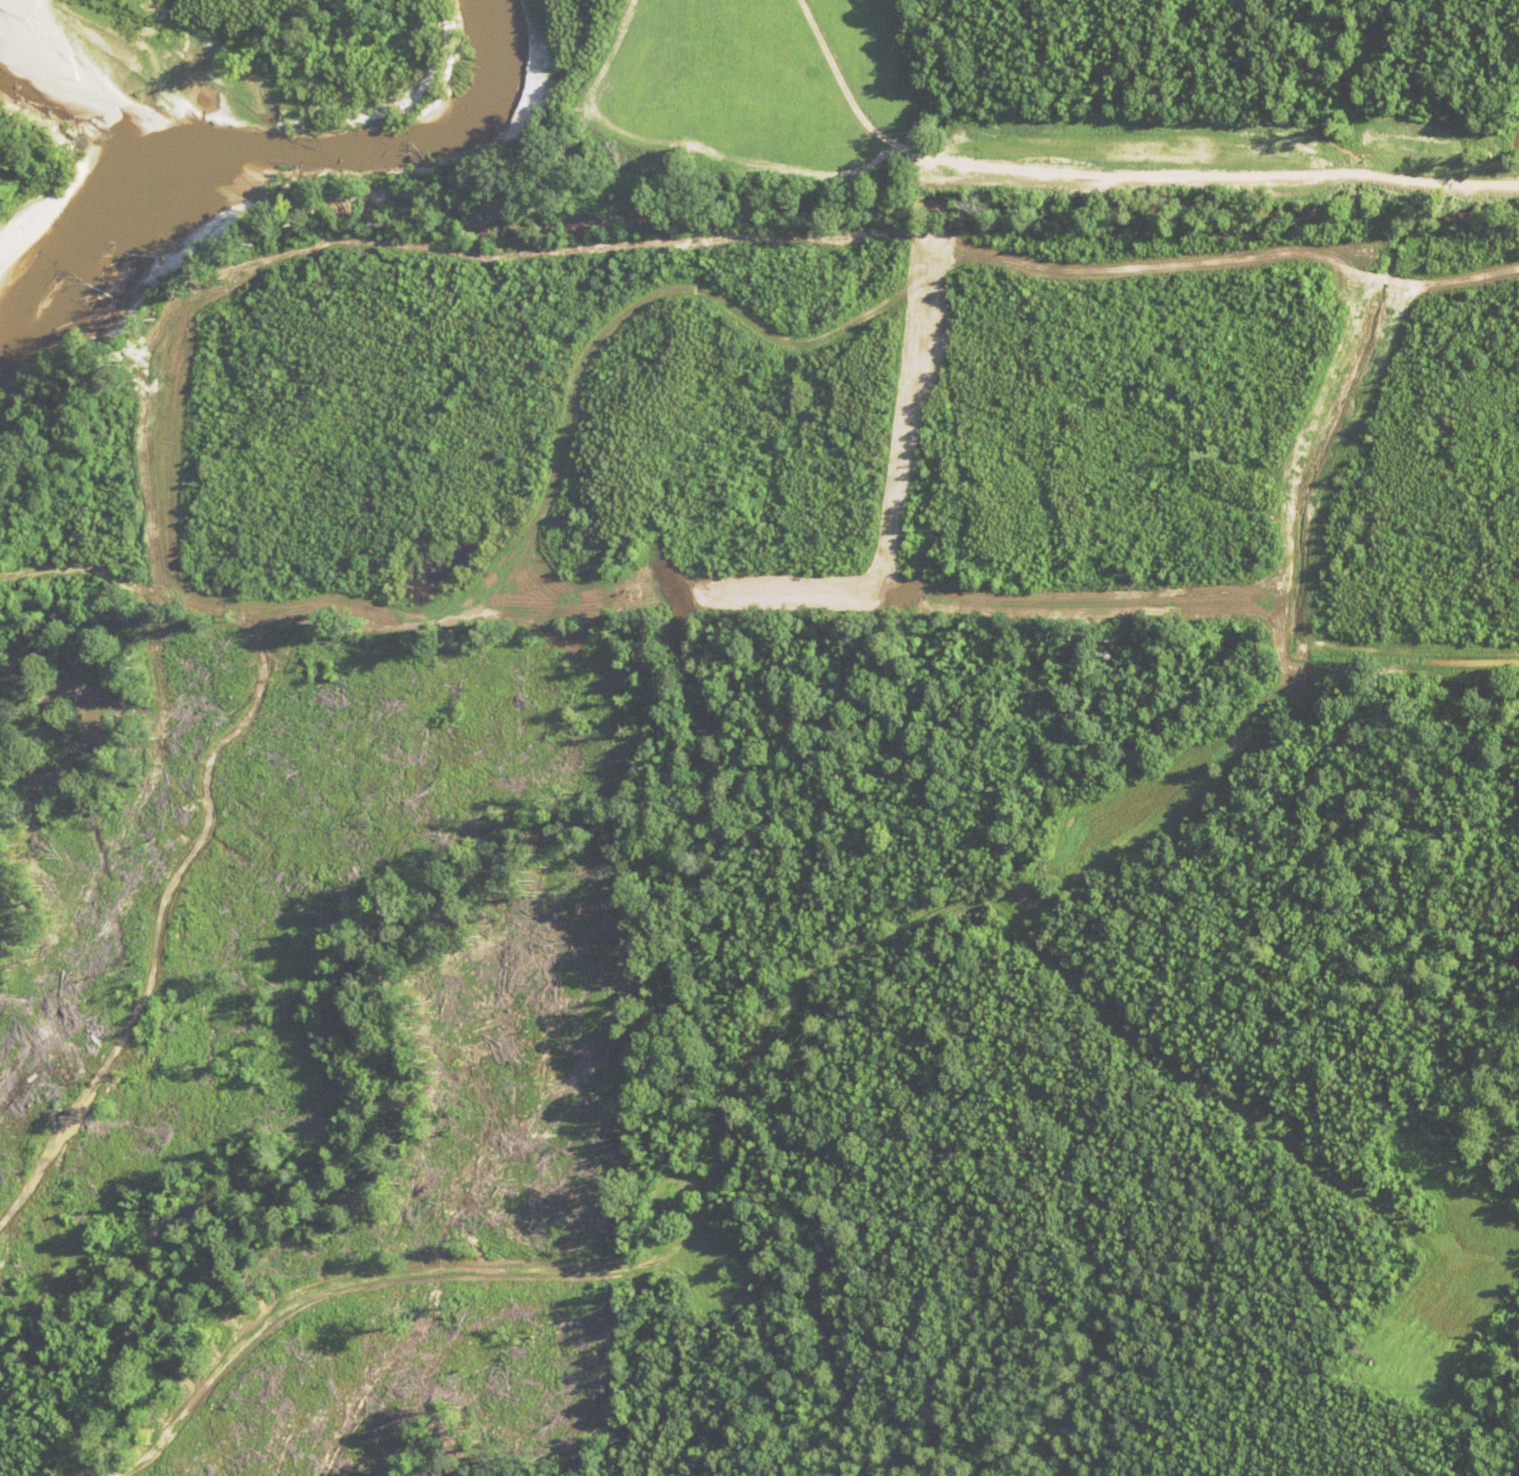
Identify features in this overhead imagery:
river: (212, 125)

